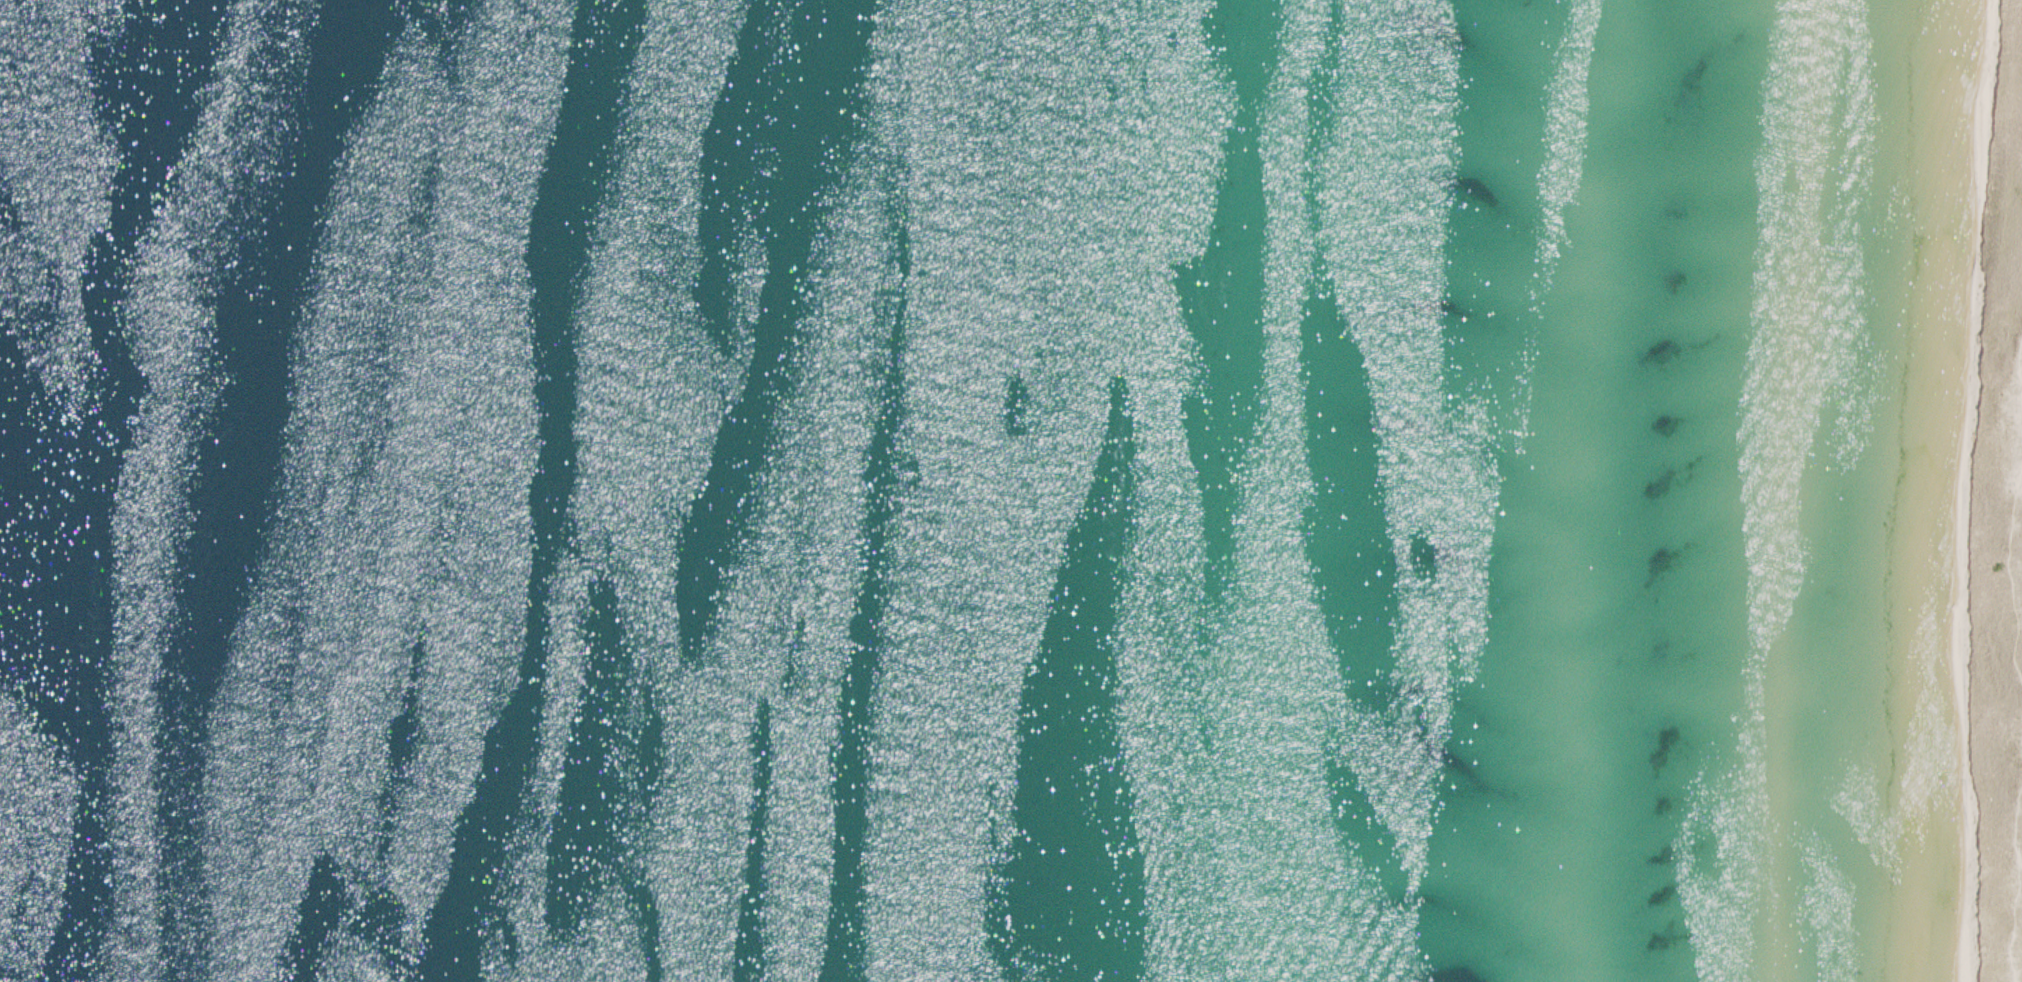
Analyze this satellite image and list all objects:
park: (1953, 493)

